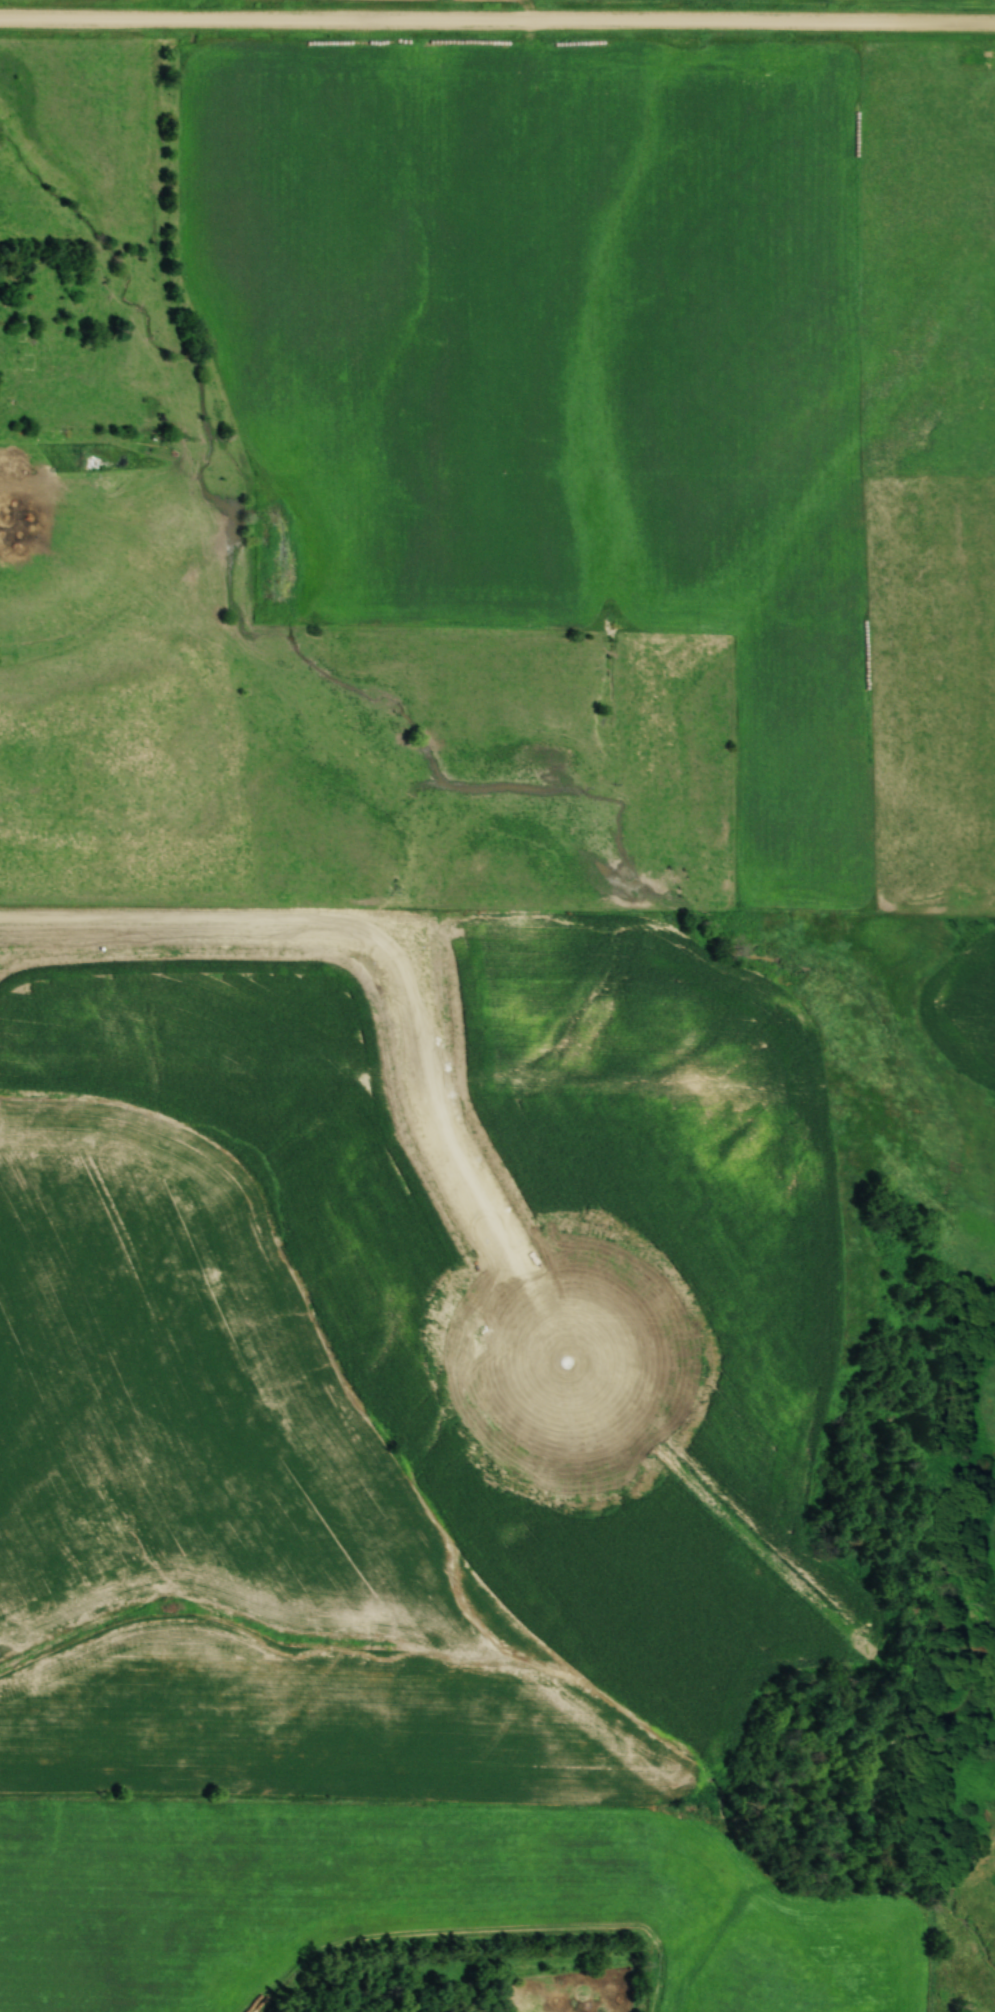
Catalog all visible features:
road: (497, 25)
wind turbine: (566, 1361)

